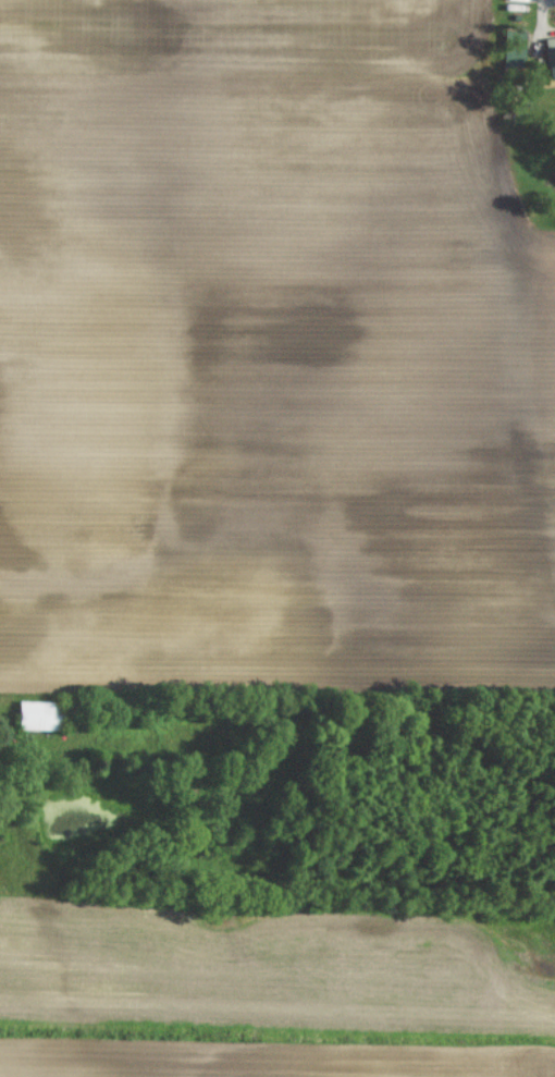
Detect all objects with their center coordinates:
road: (554, 0)
road: (538, 22)
building: (548, 60)
building: (34, 713)

